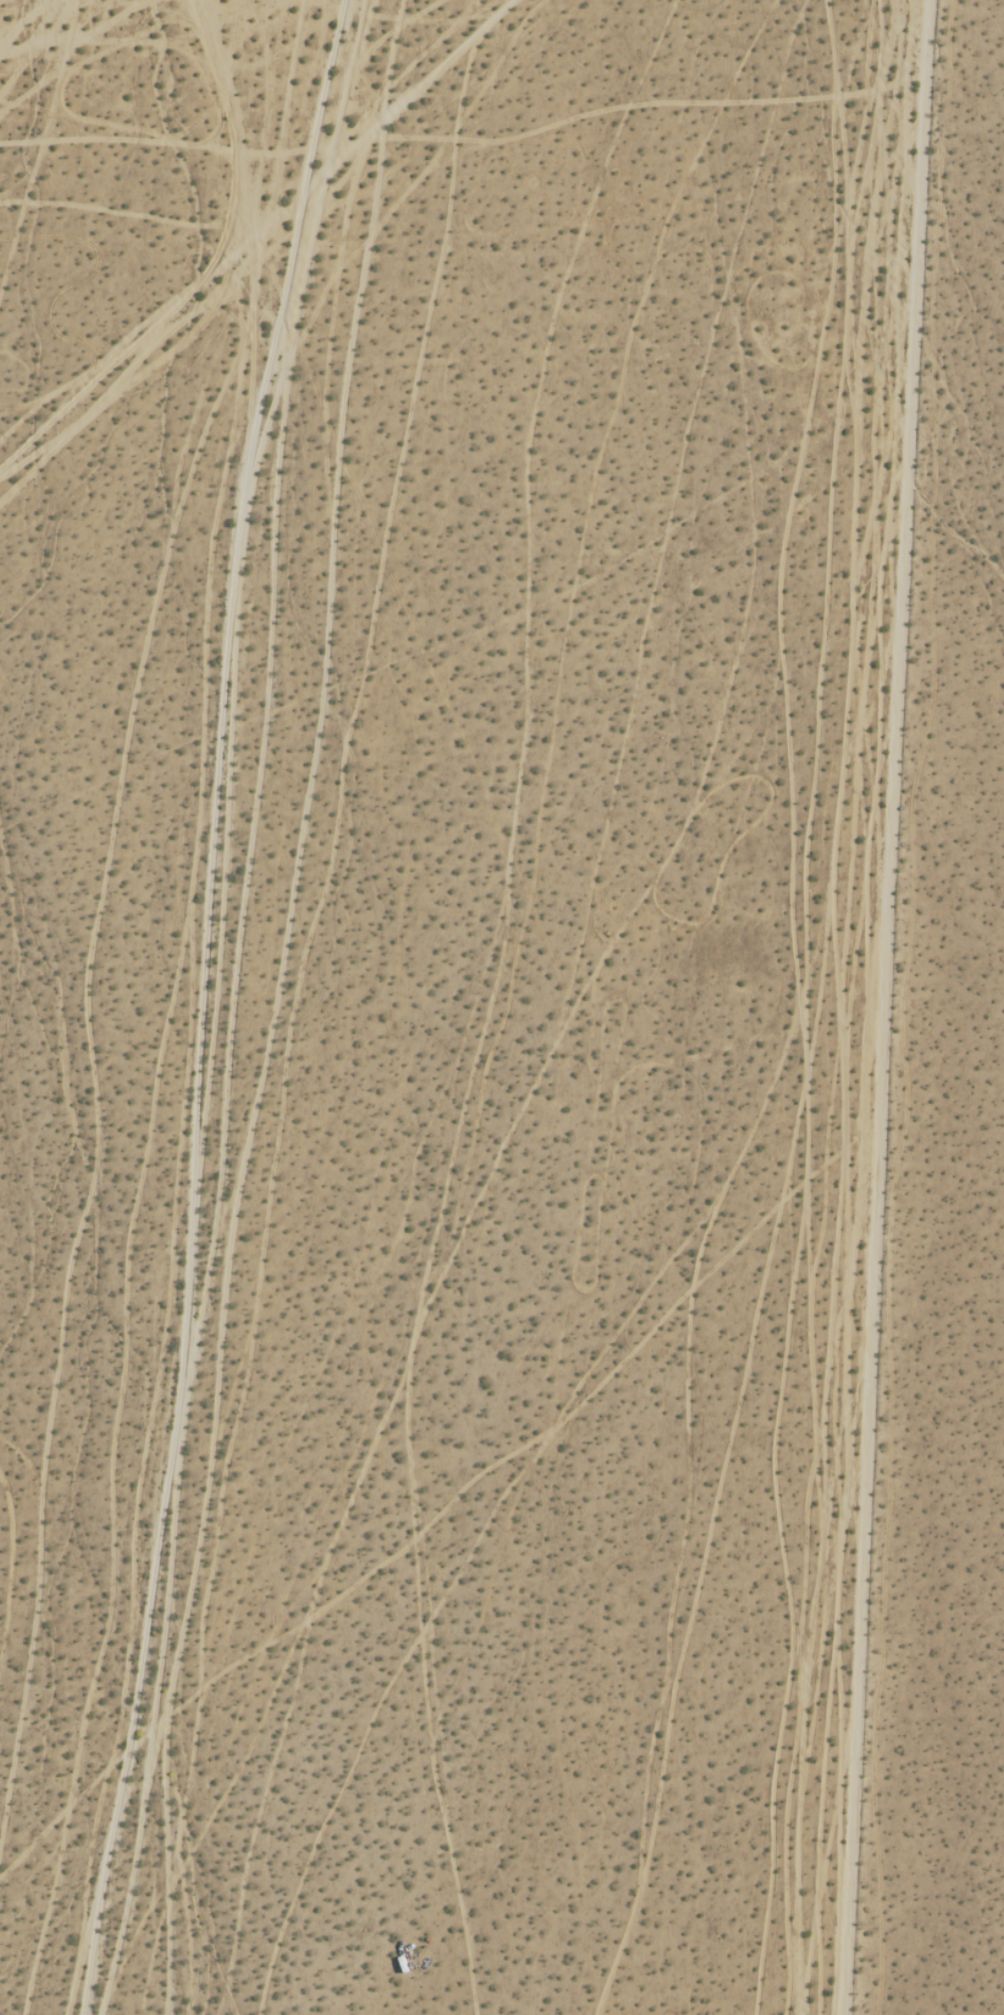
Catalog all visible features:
road: (203, 1005)
road: (890, 1007)

